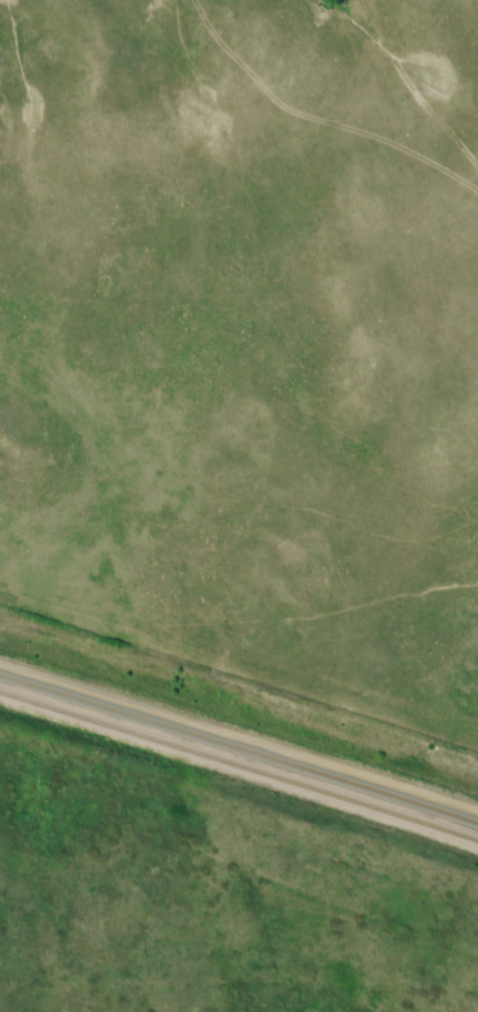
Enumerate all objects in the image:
railway: (239, 749)
railway: (239, 761)

